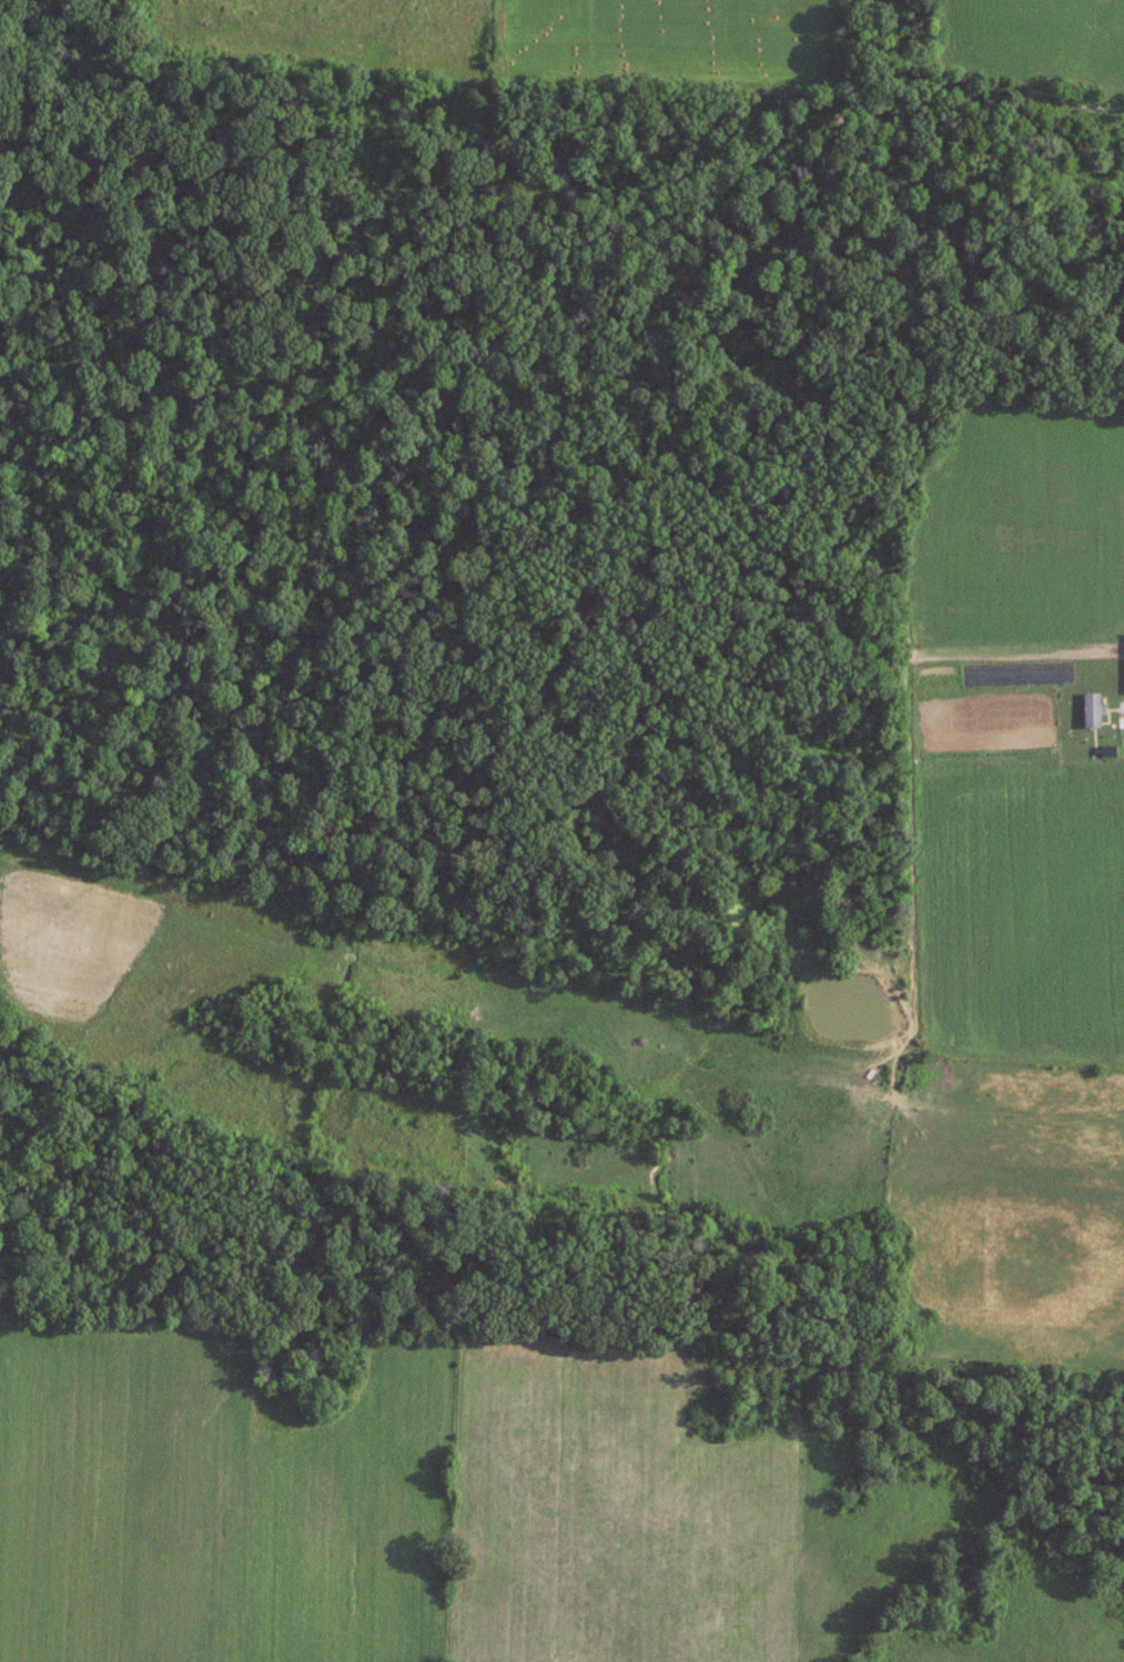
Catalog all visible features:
road: (556, 996)

